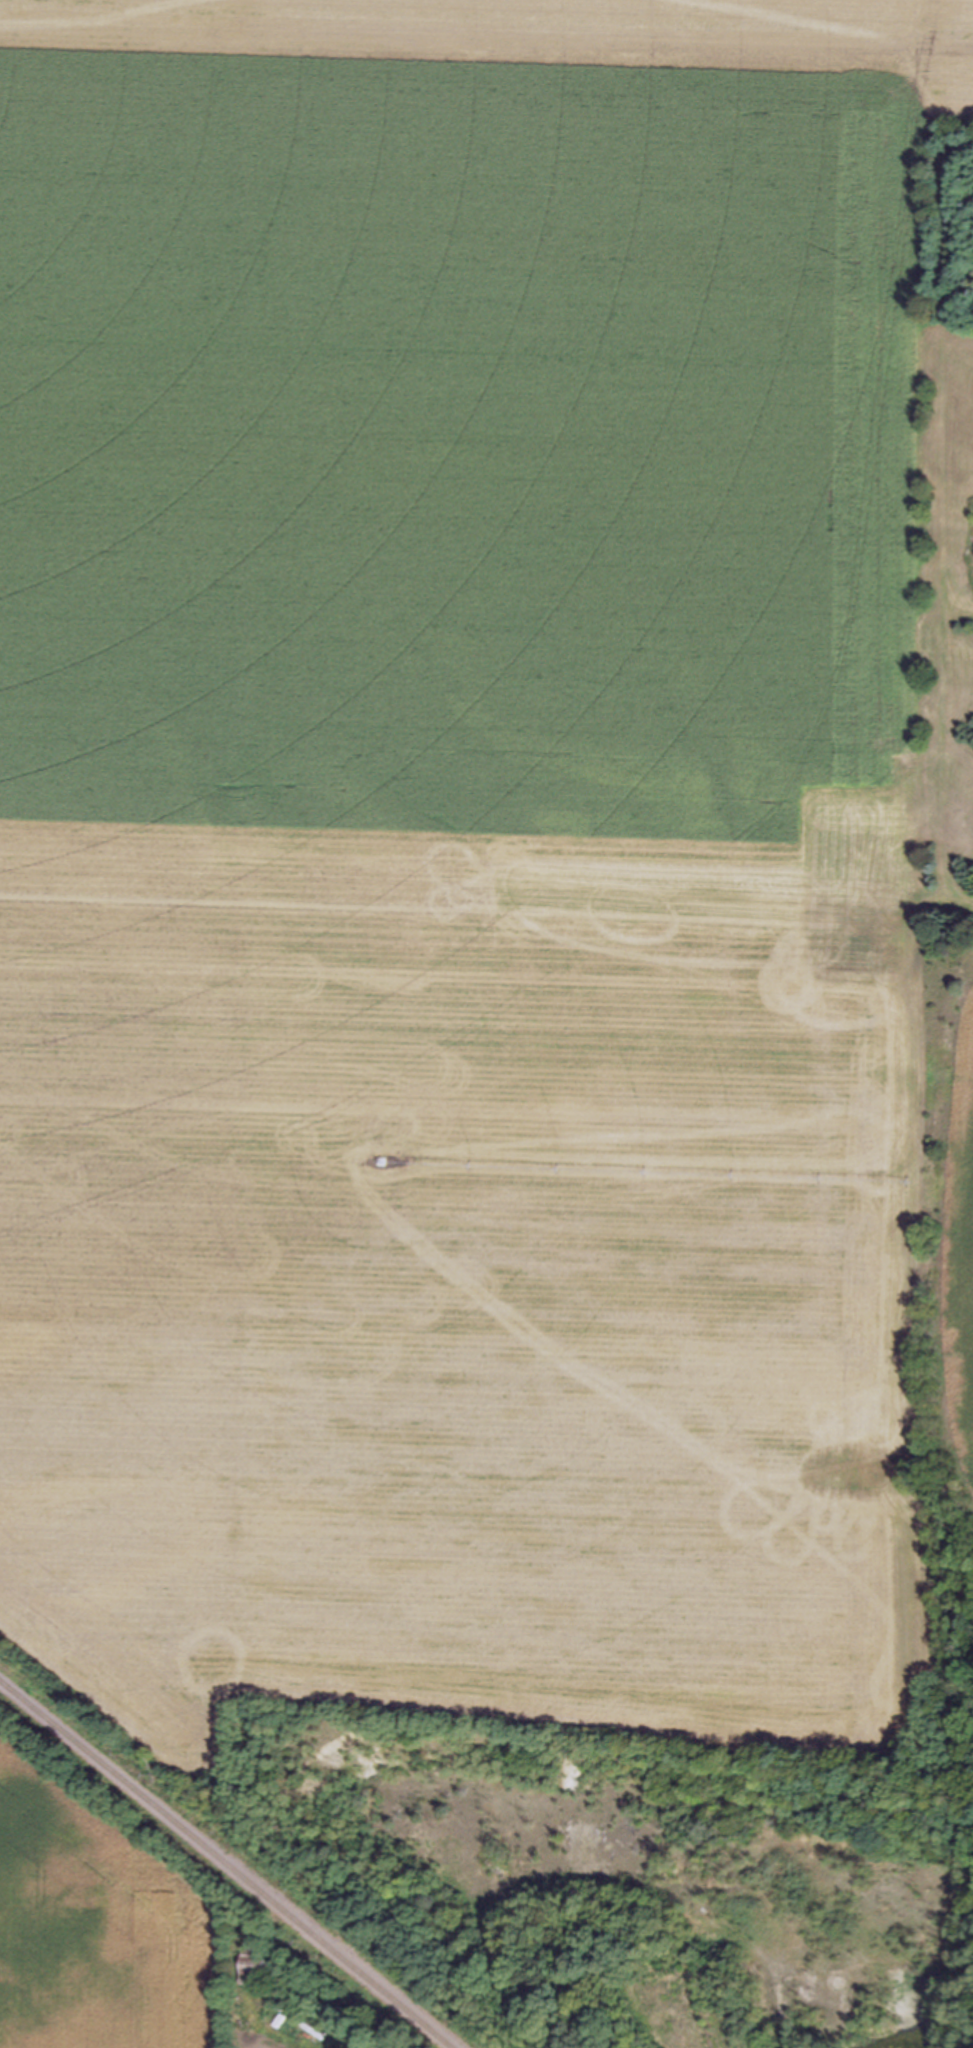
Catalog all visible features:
railway: (225, 1864)
building: (251, 1968)
road: (315, 2012)

